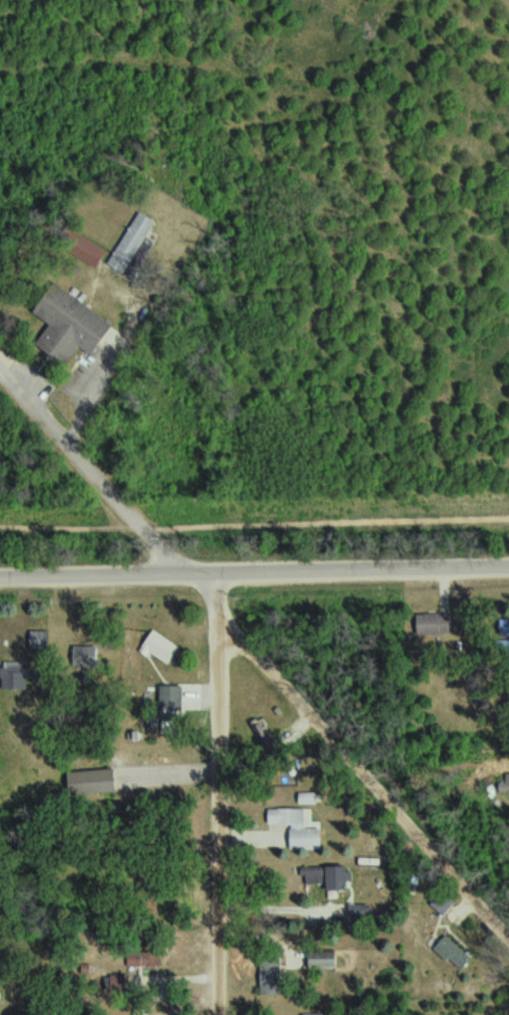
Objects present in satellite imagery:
building: (134, 242)
building: (72, 325)
road: (93, 471)
road: (254, 573)
building: (42, 638)
building: (162, 646)
building: (88, 654)
building: (22, 674)
road: (365, 780)
building: (96, 781)
road: (220, 794)
building: (122, 984)
building: (318, 1014)

